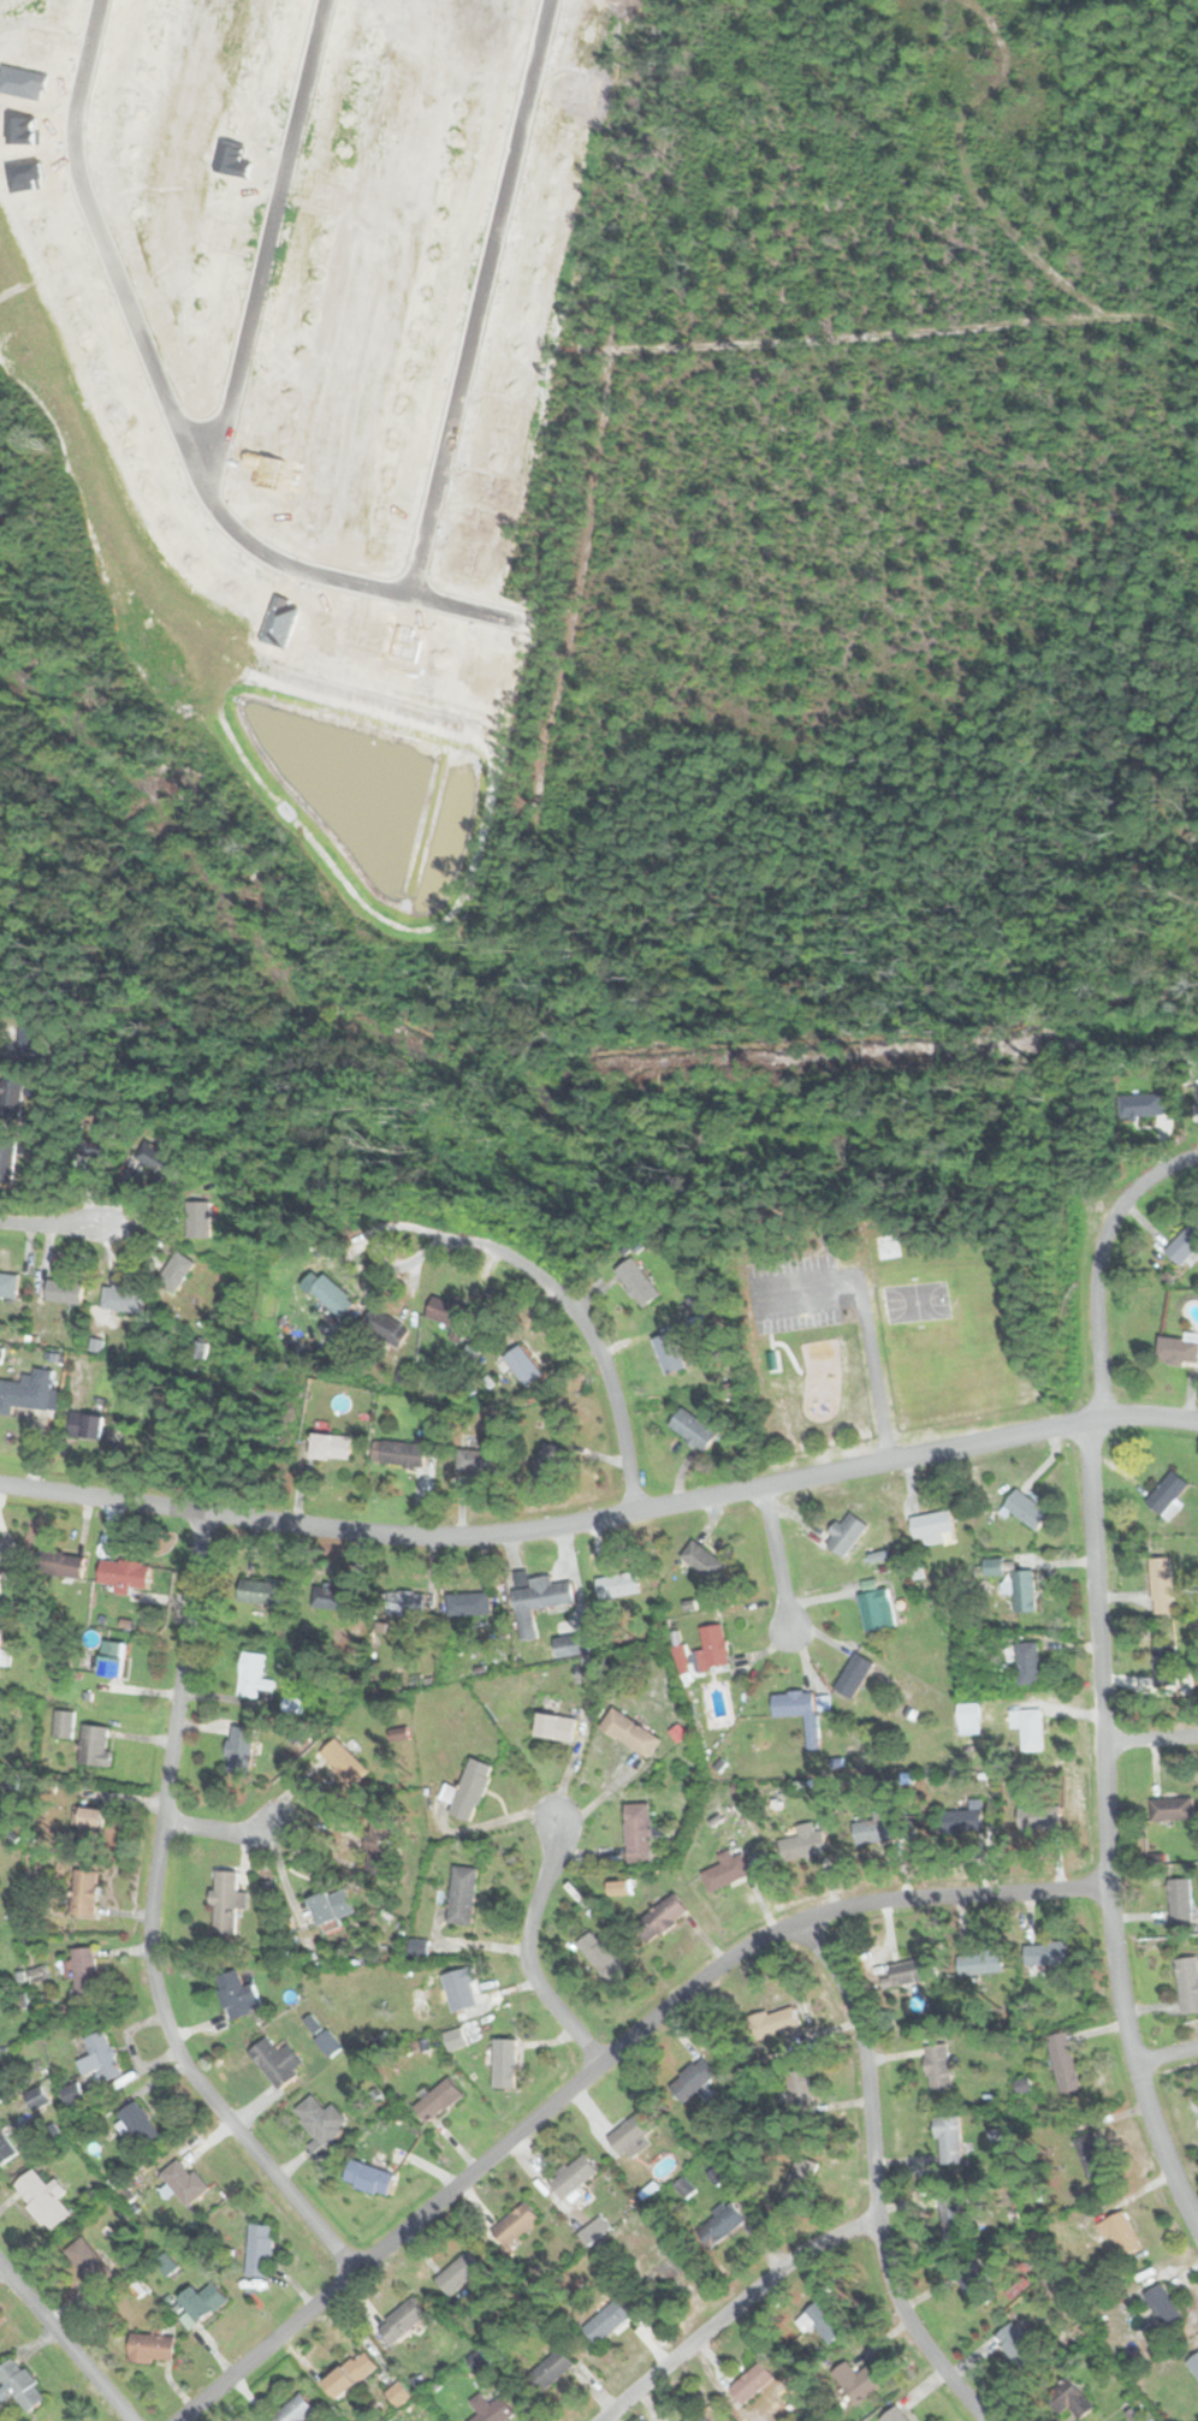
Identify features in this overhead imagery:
road: (266, 243)
building: (29, 1034)
building: (11, 1093)
building: (1197, 1096)
building: (1141, 1104)
building: (100, 1141)
building: (6, 1159)
building: (196, 1220)
road: (49, 1223)
park: (879, 1233)
building: (1184, 1244)
road: (1098, 1264)
building: (174, 1271)
building: (8, 1282)
building: (639, 1282)
building: (63, 1290)
building: (328, 1292)
building: (121, 1296)
building: (449, 1311)
road: (577, 1316)
park: (955, 1343)
building: (1179, 1347)
building: (670, 1352)
building: (522, 1364)
building: (28, 1390)
building: (84, 1425)
building: (692, 1428)
building: (331, 1446)
building: (402, 1452)
building: (473, 1460)
building: (547, 1460)
building: (1167, 1490)
building: (1025, 1508)
road: (601, 1518)
building: (932, 1526)
building: (847, 1533)
building: (4, 1551)
road: (776, 1554)
building: (701, 1560)
building: (59, 1562)
building: (992, 1565)
building: (123, 1573)
building: (618, 1584)
building: (1163, 1584)
building: (262, 1590)
building: (1022, 1591)
building: (333, 1597)
building: (538, 1601)
building: (405, 1602)
building: (469, 1603)
building: (877, 1608)
building: (1, 1642)
building: (571, 1645)
building: (712, 1645)
building: (111, 1660)
building: (1027, 1663)
building: (1167, 1665)
building: (854, 1674)
building: (254, 1677)
building: (795, 1705)
building: (967, 1713)
building: (64, 1723)
building: (554, 1726)
building: (1027, 1728)
building: (630, 1732)
road: (1149, 1737)
building: (94, 1744)
building: (241, 1749)
building: (468, 1790)
building: (1169, 1809)
building: (1037, 1817)
building: (959, 1820)
building: (87, 1824)
building: (877, 1827)
road: (219, 1830)
building: (637, 1832)
road: (1103, 1832)
building: (375, 1845)
building: (802, 1845)
building: (729, 1868)
building: (83, 1892)
building: (462, 1894)
building: (1180, 1899)
building: (226, 1901)
building: (321, 1906)
building: (662, 1917)
road: (148, 1922)
building: (417, 1946)
road: (526, 1951)
building: (1045, 1953)
building: (601, 1956)
building: (981, 1963)
building: (82, 1972)
building: (906, 1972)
building: (1187, 1983)
building: (459, 1988)
building: (237, 1994)
building: (770, 2021)
building: (455, 2037)
building: (328, 2042)
road: (1166, 2054)
building: (99, 2057)
building: (275, 2060)
building: (503, 2063)
road: (600, 2063)
building: (1063, 2063)
building: (937, 2066)
building: (690, 2078)
building: (796, 2087)
building: (435, 2100)
building: (320, 2120)
building: (138, 2123)
building: (631, 2134)
building: (949, 2138)
building: (5, 2148)
building: (1090, 2153)
building: (571, 2176)
building: (368, 2177)
building: (800, 2178)
road: (873, 2178)
building: (179, 2184)
building: (42, 2200)
building: (953, 2217)
building: (723, 2219)
building: (514, 2225)
building: (595, 2230)
building: (1122, 2232)
building: (257, 2251)
building: (84, 2262)
building: (457, 2273)
building: (974, 2279)
building: (198, 2302)
building: (1162, 2306)
road: (730, 2309)
building: (822, 2321)
building: (401, 2322)
building: (604, 2322)
road: (65, 2343)
building: (149, 2345)
building: (1018, 2345)
building: (1193, 2363)
building: (548, 2370)
building: (349, 2375)
building: (855, 2381)
building: (752, 2384)
building: (20, 2385)
building: (1063, 2403)
building: (494, 2408)
building: (298, 2409)
building: (894, 2415)
building: (699, 2417)

